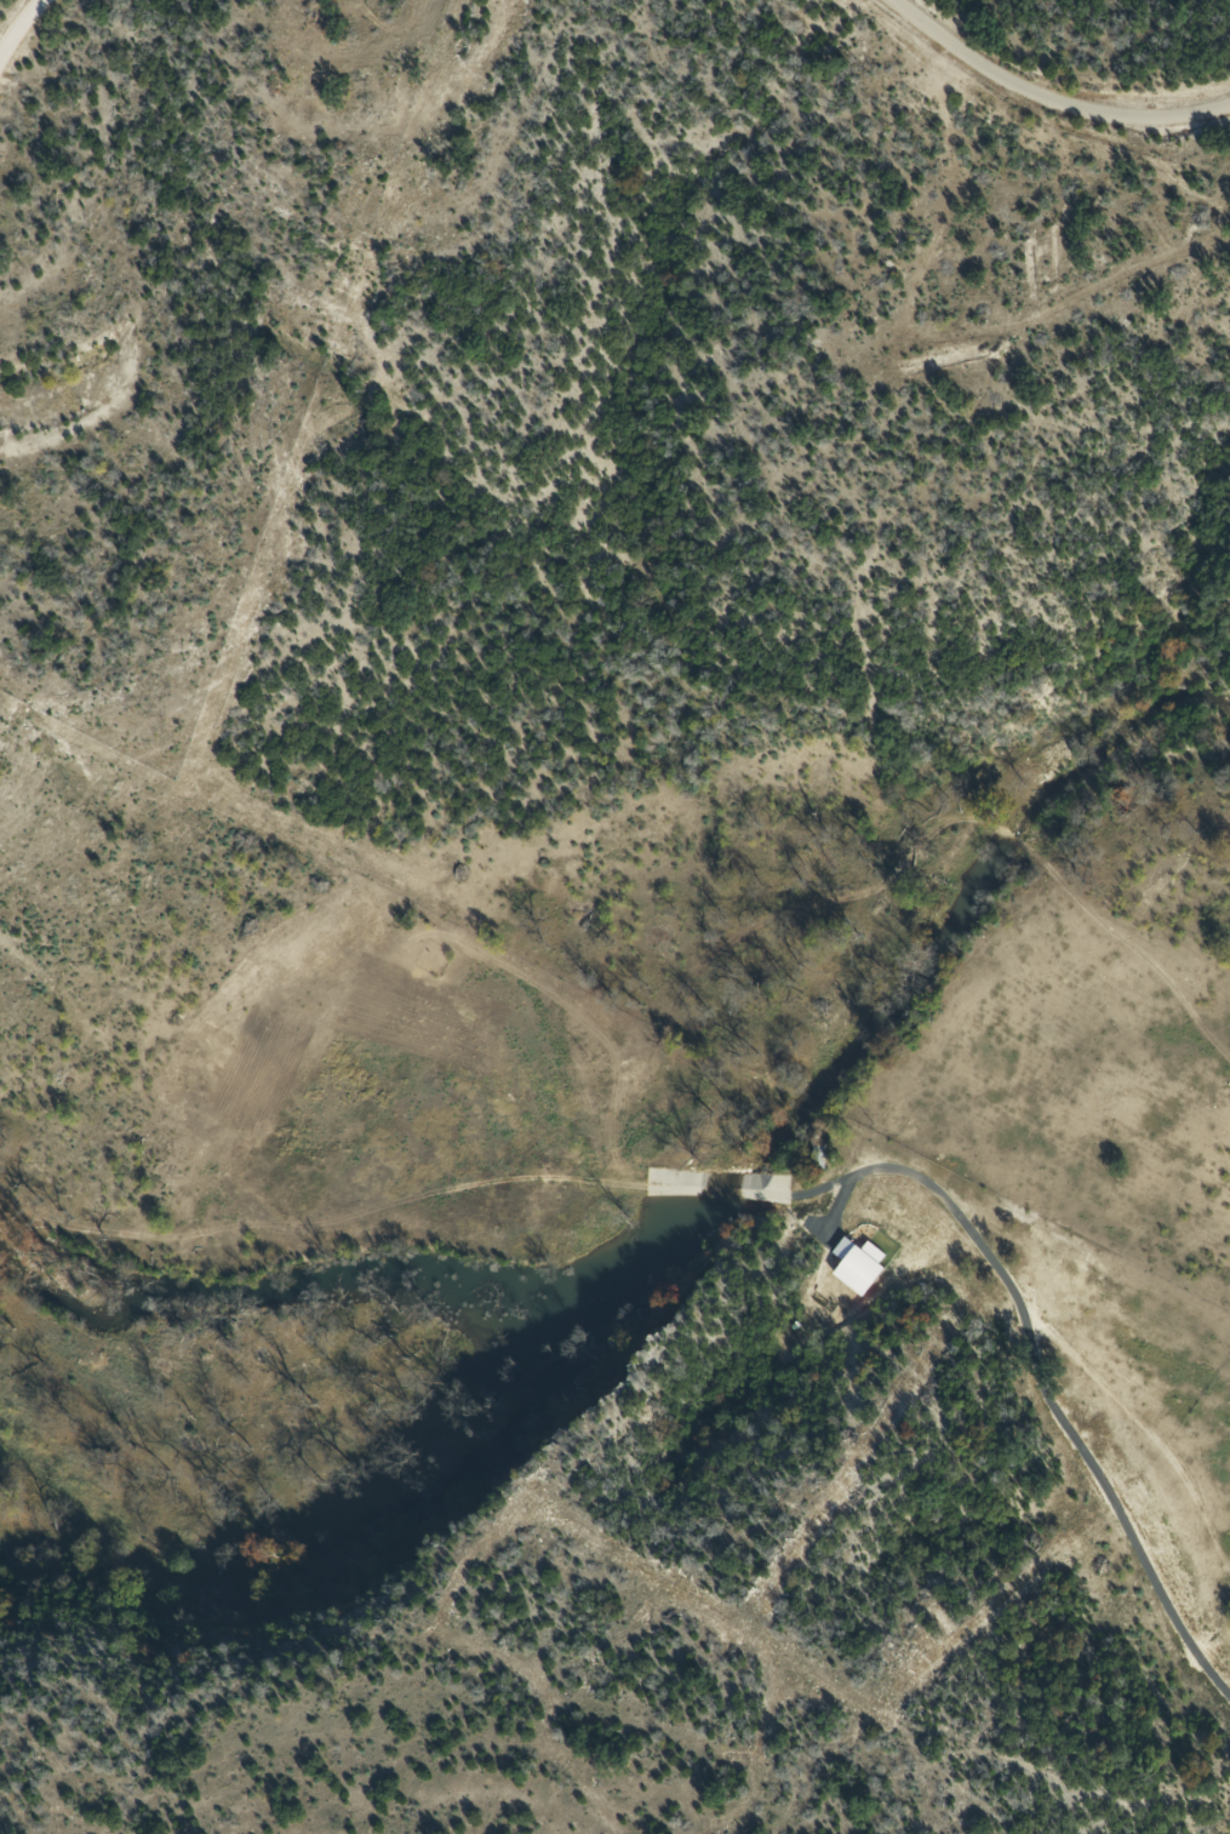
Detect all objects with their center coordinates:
road: (46, 62)
road: (976, 95)
road: (38, 995)
road: (1062, 1455)

